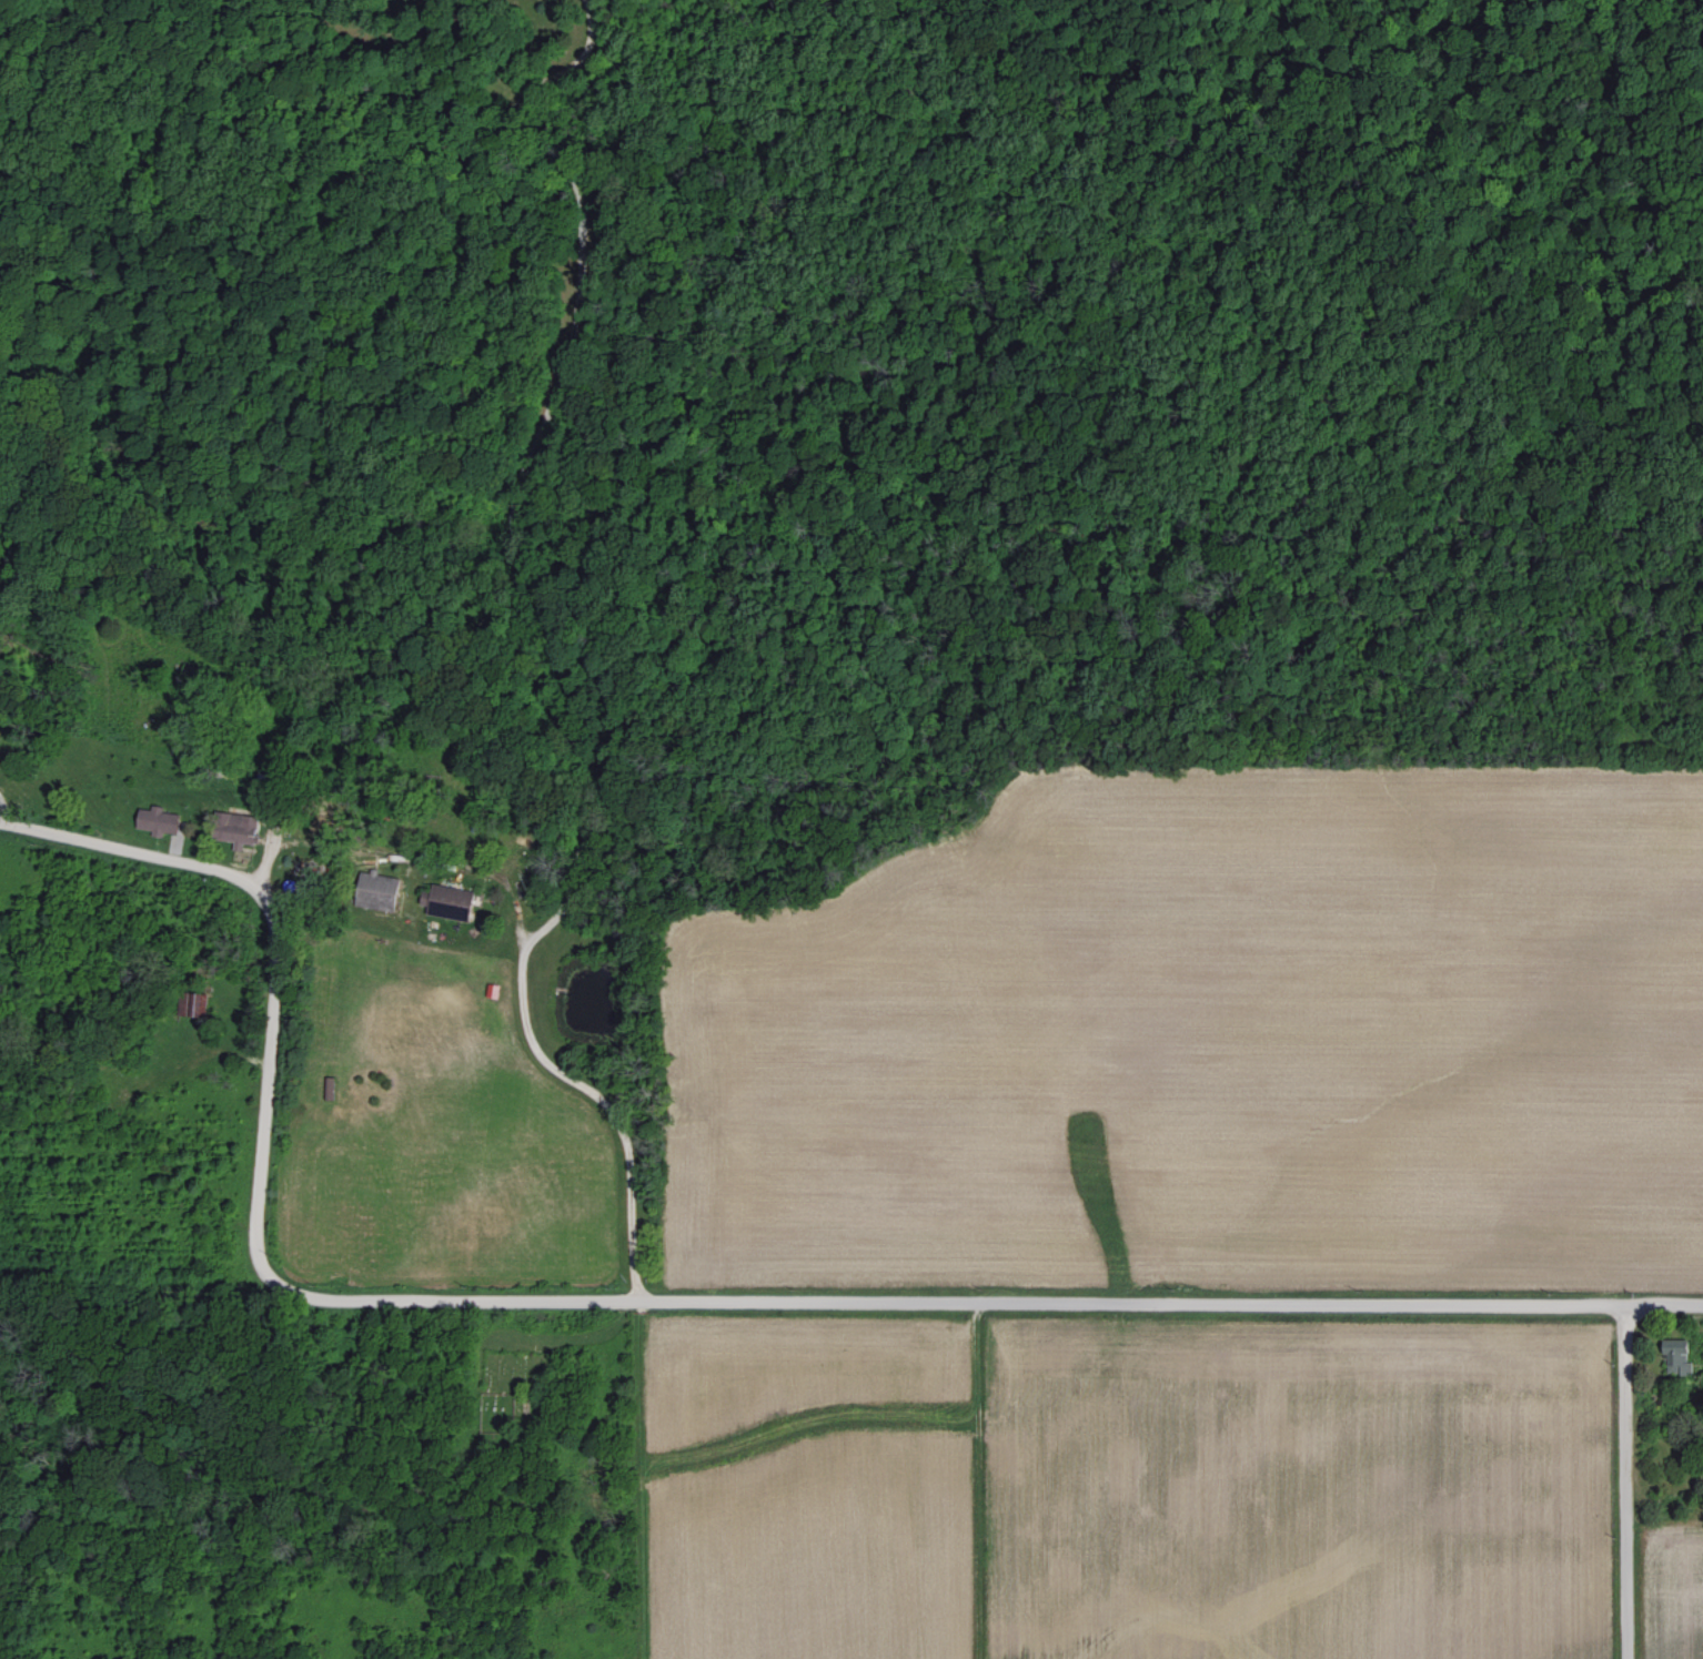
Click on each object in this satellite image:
building: (0, 730)
road: (143, 854)
building: (384, 891)
building: (454, 903)
road: (581, 1085)
road: (266, 1102)
road: (989, 1302)
building: (1673, 1356)
road: (1626, 1483)

